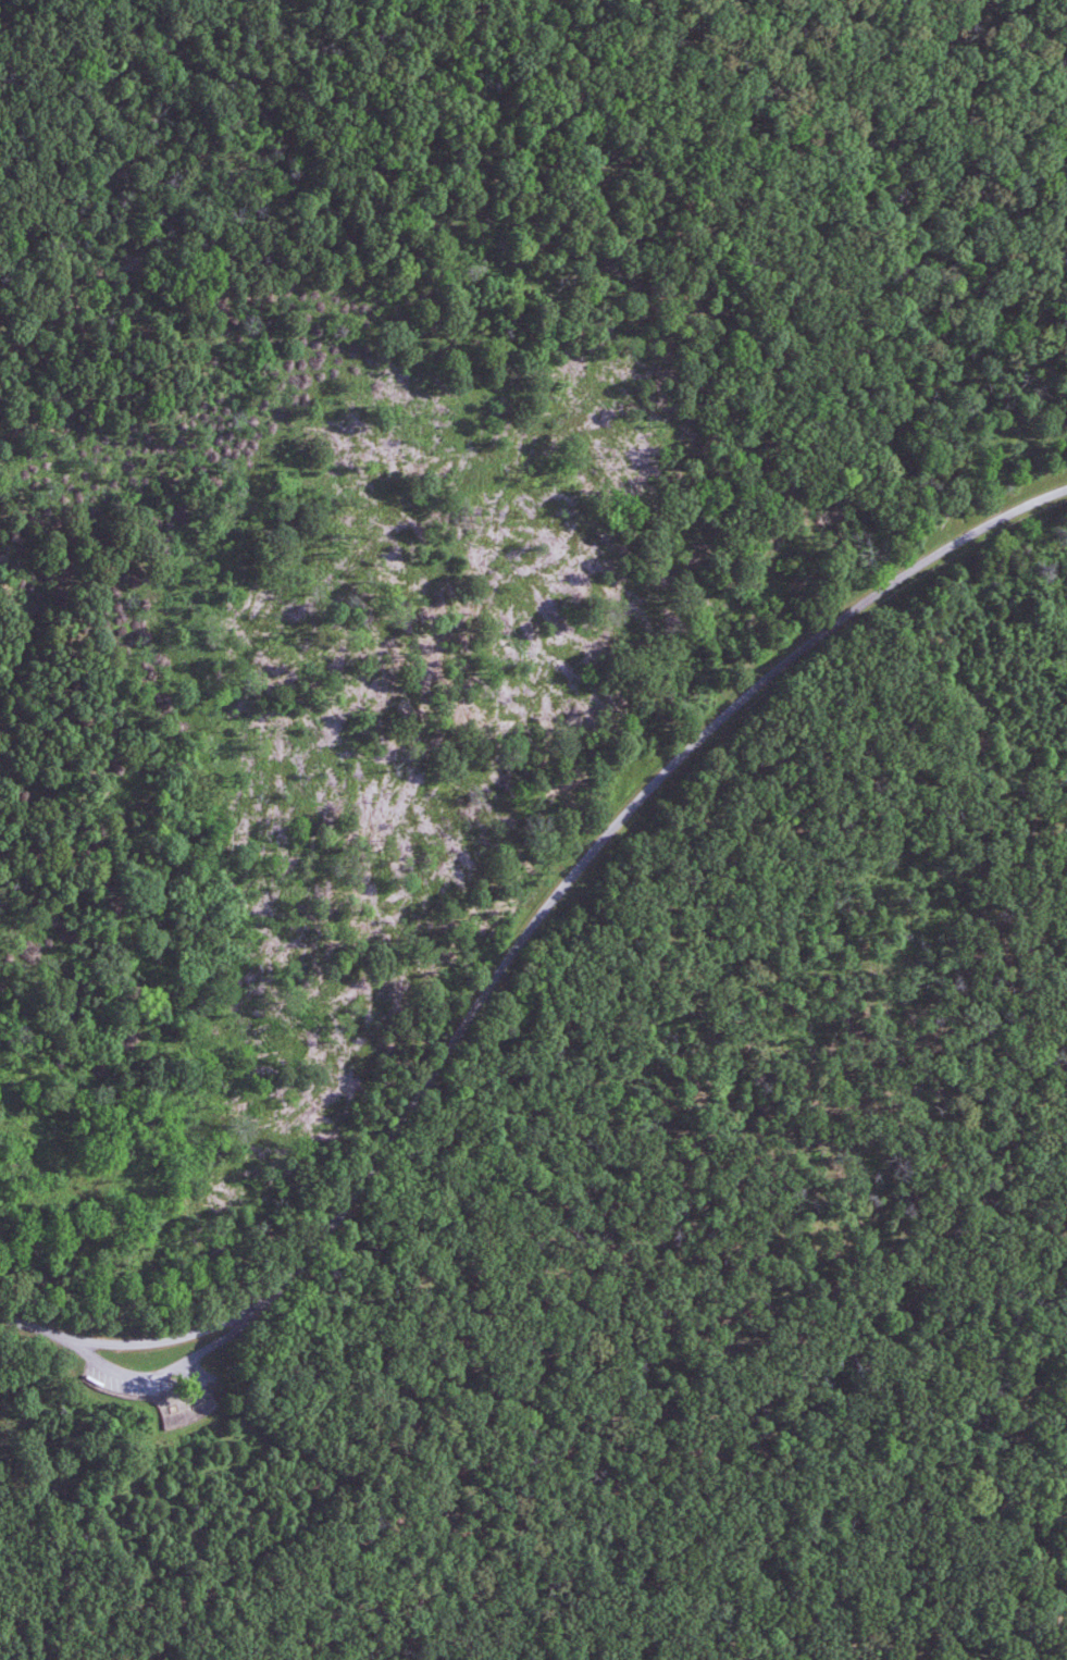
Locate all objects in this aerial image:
road: (523, 957)
road: (178, 1382)
parking lot: (159, 1387)
road: (146, 1410)
road: (193, 1417)

